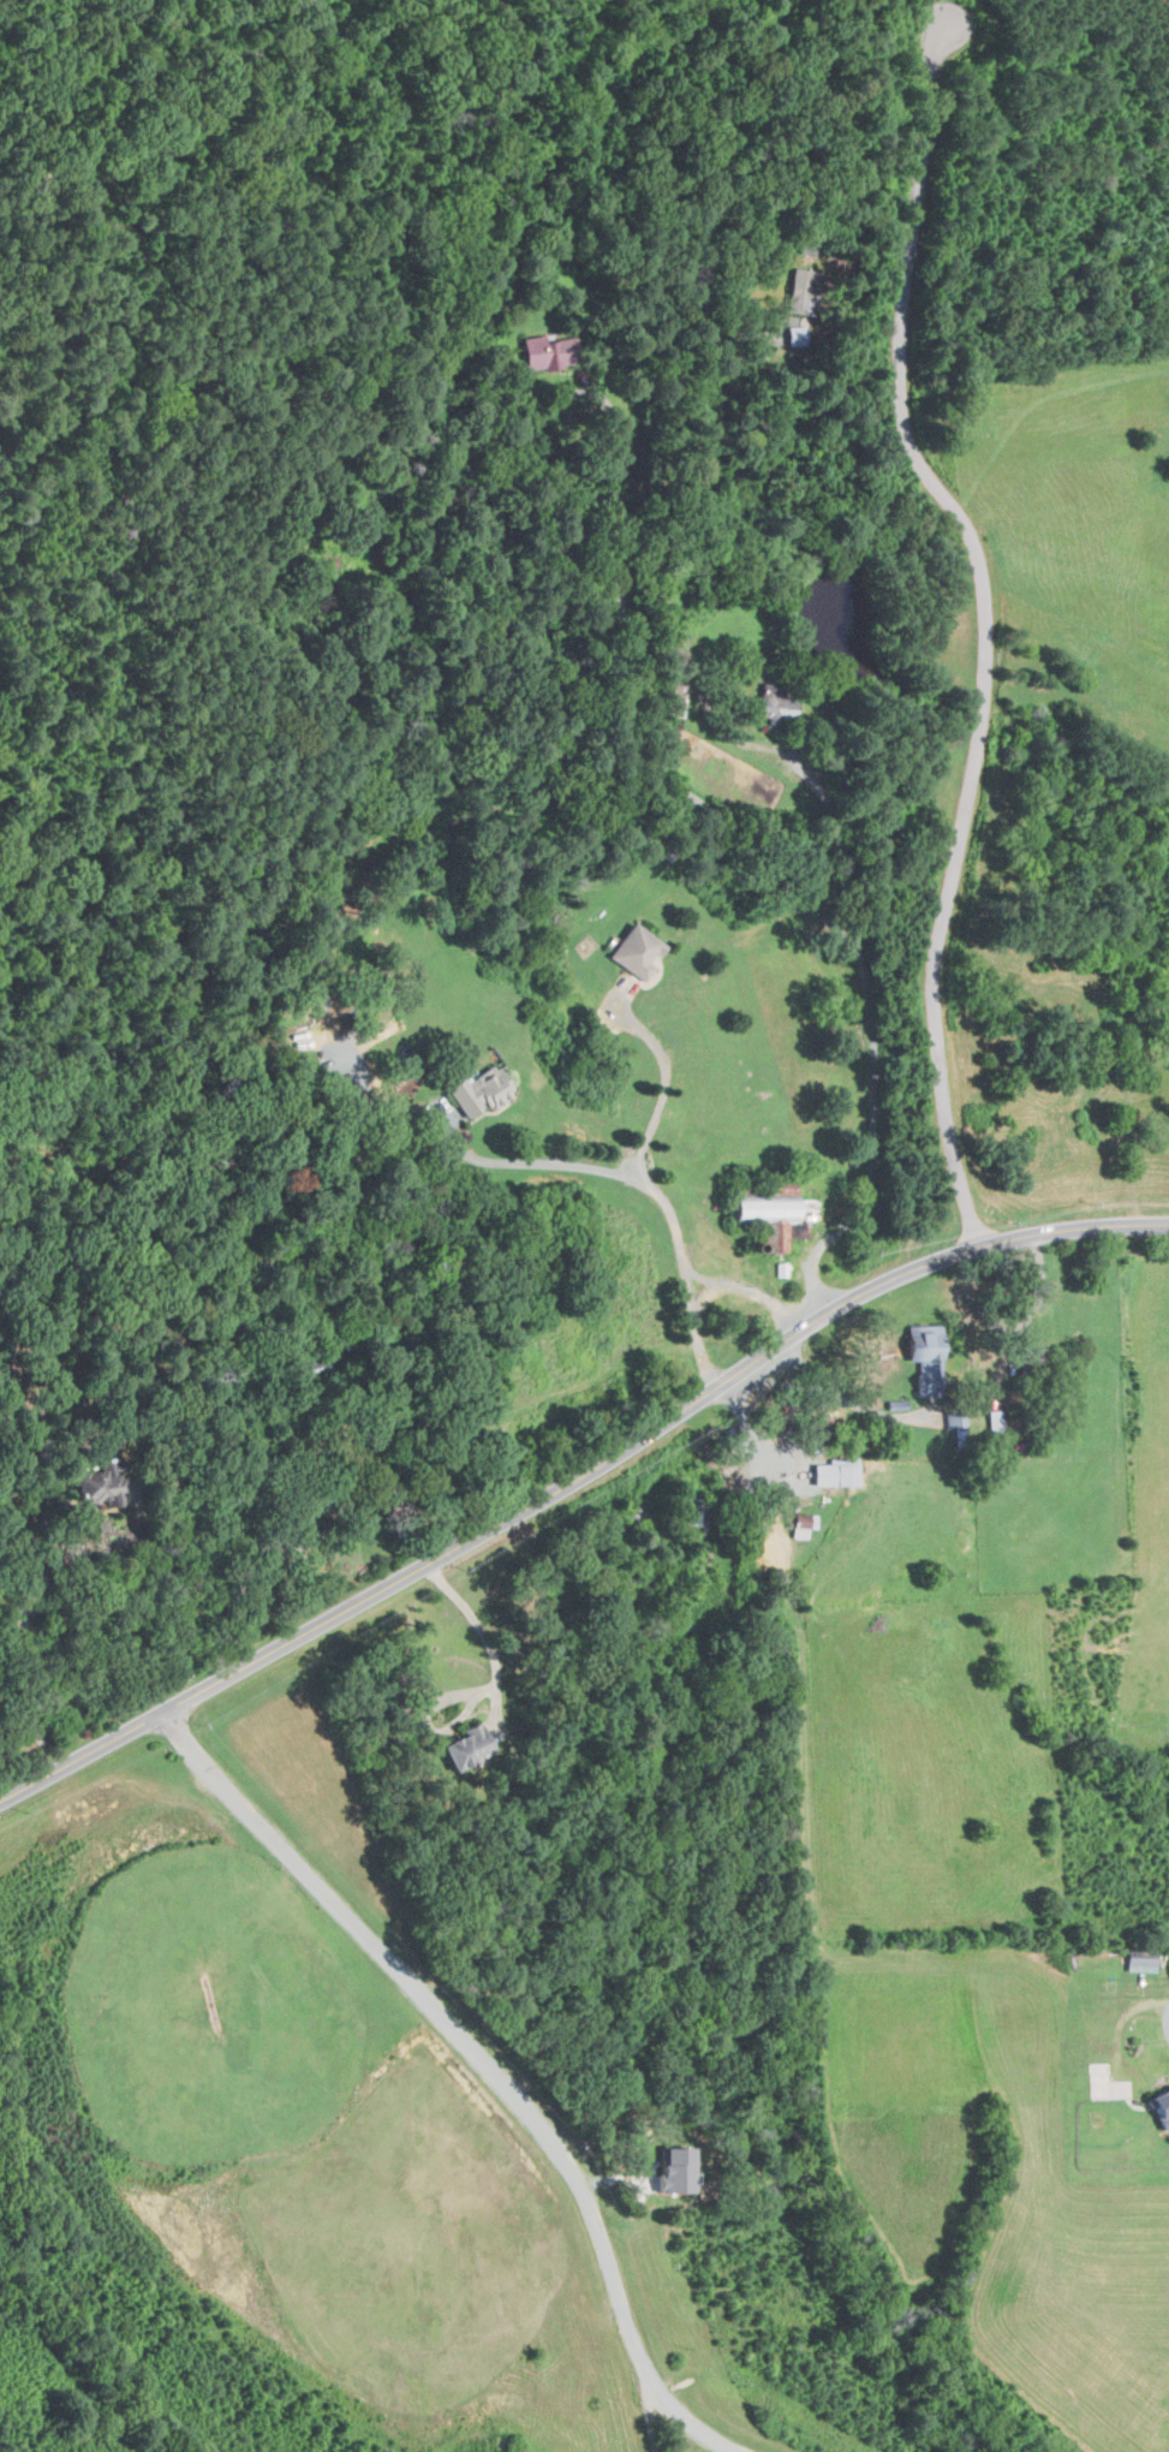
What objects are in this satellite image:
building: (797, 292)
building: (545, 352)
road: (988, 636)
building: (771, 708)
road: (697, 802)
building: (631, 952)
building: (475, 1091)
road: (533, 1163)
road: (656, 1192)
building: (767, 1214)
road: (745, 1291)
building: (917, 1347)
road: (849, 1400)
building: (833, 1472)
road: (573, 1476)
building: (91, 1486)
building: (800, 1524)
road: (157, 1587)
road: (239, 1595)
road: (488, 1690)
building: (459, 1746)
road: (87, 1784)
road: (127, 1784)
parking lot: (127, 1791)
building: (1137, 1960)
road: (1167, 2024)
road: (488, 2061)
building: (1158, 2105)
building: (672, 2170)
road: (646, 2399)

